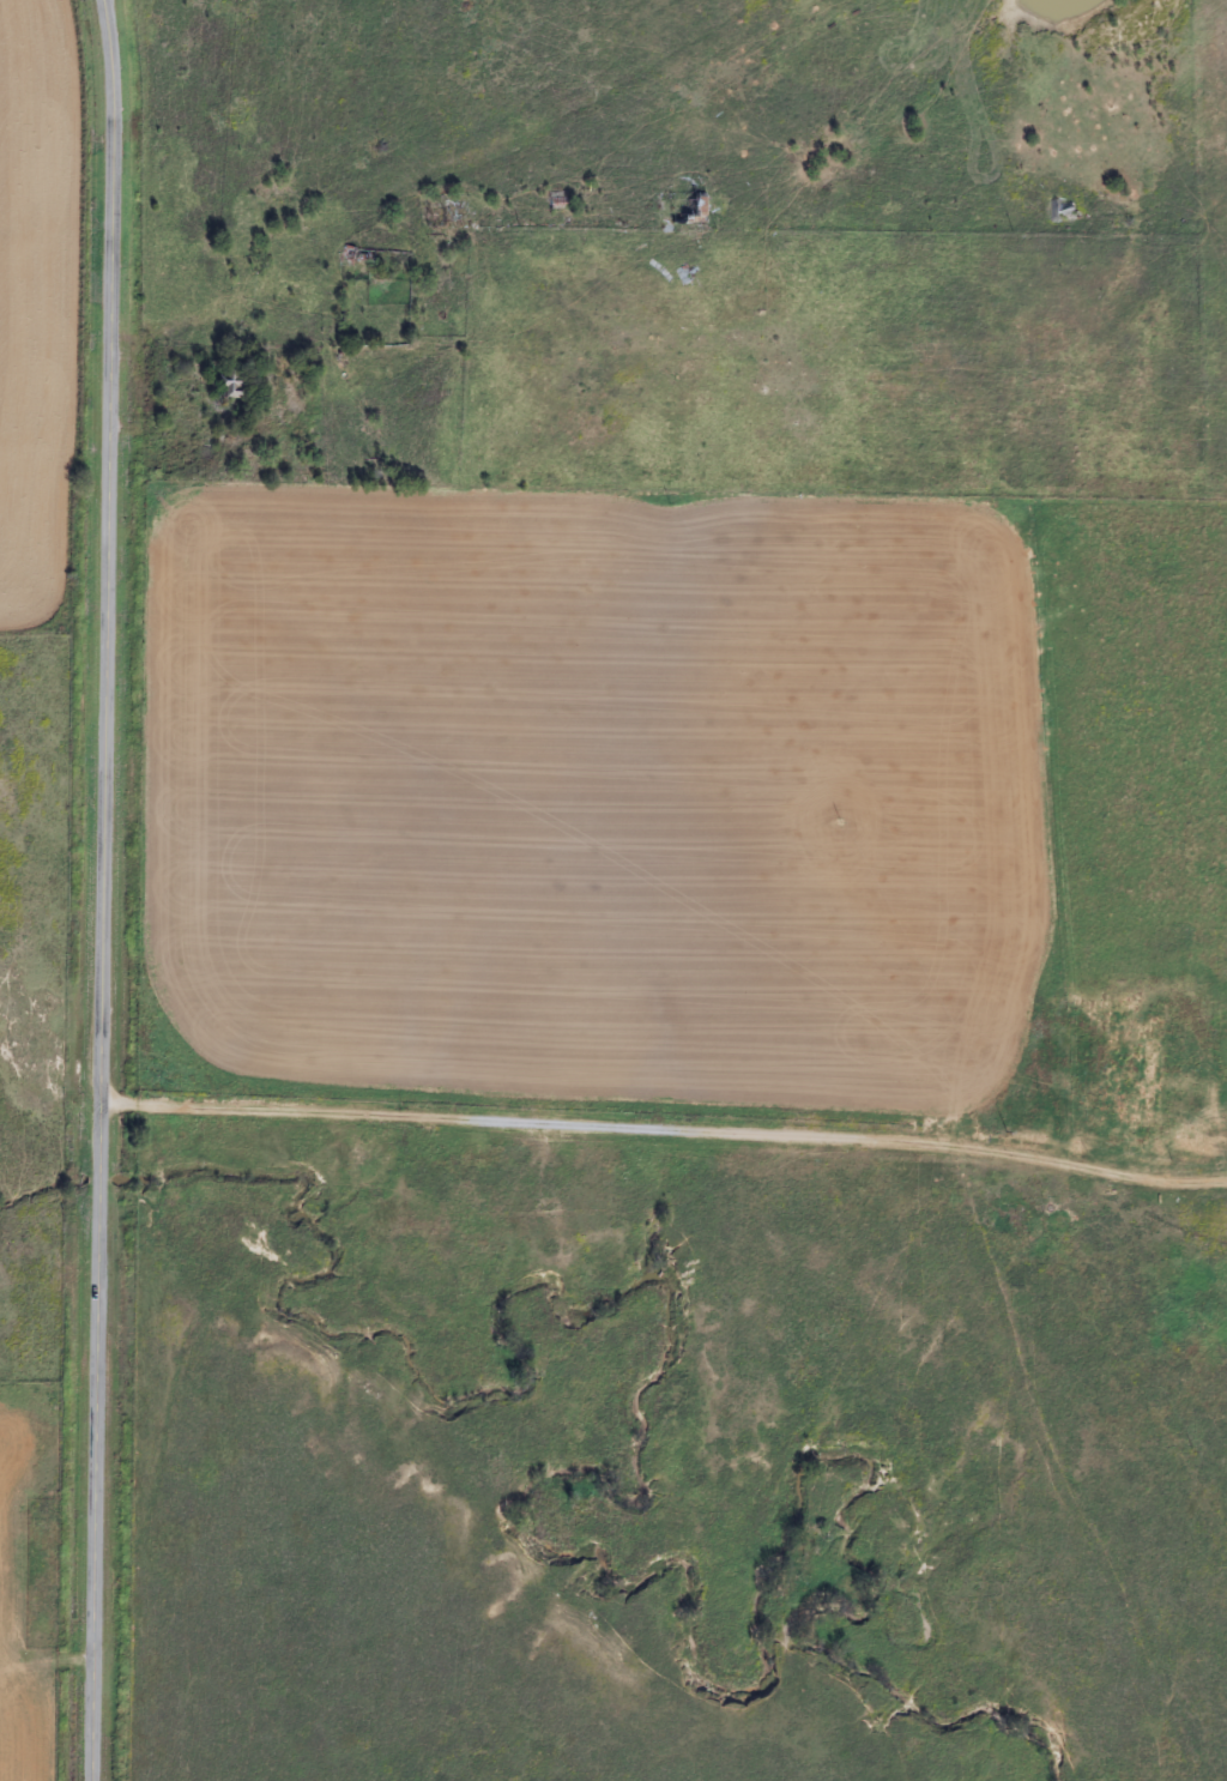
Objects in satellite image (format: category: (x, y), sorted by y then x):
building: (681, 209)
building: (1050, 213)
building: (225, 390)
road: (104, 889)
building: (1124, 1068)
road: (665, 1142)

